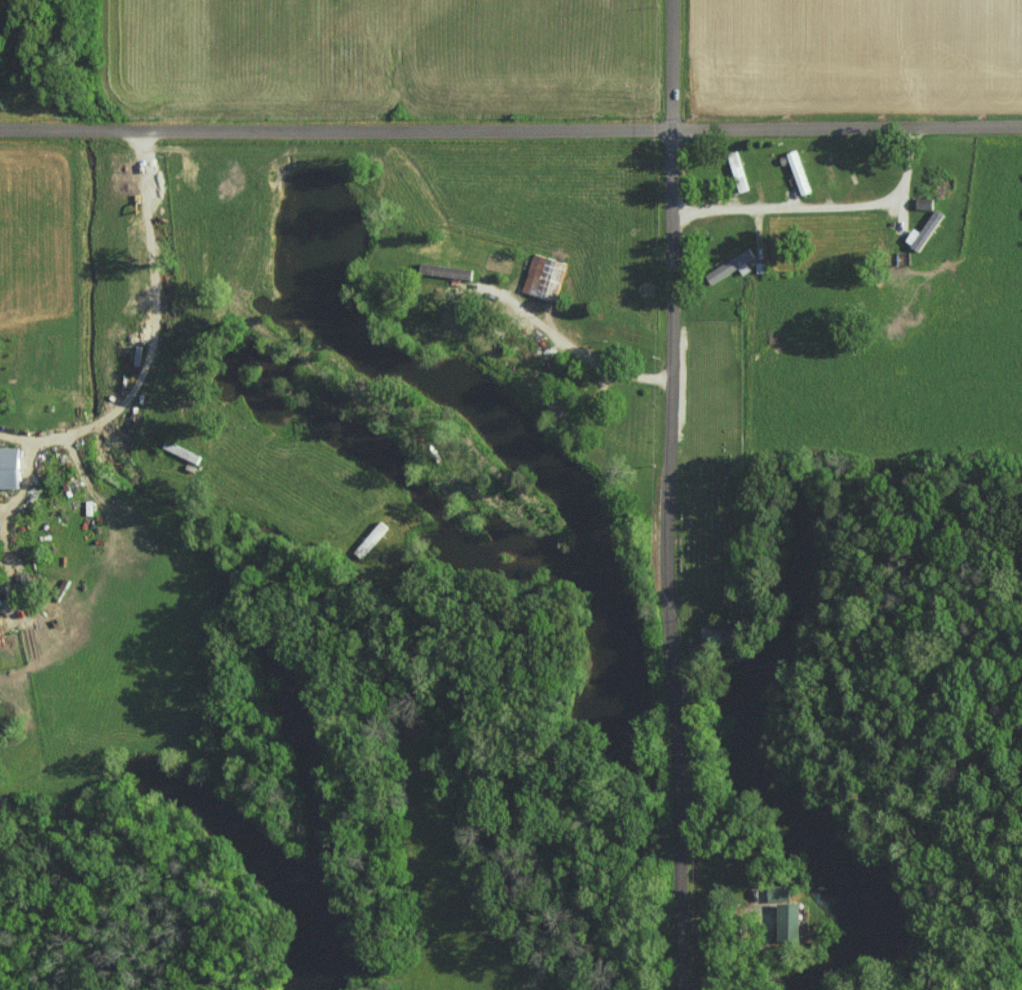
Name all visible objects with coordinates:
road: (510, 124)
building: (799, 172)
road: (826, 209)
building: (923, 233)
building: (733, 266)
building: (446, 271)
building: (545, 277)
road: (150, 281)
road: (261, 409)
road: (97, 424)
road: (45, 437)
building: (10, 467)
road: (673, 494)
park: (710, 534)
building: (372, 539)
building: (0, 621)
building: (0, 646)
building: (778, 892)
building: (788, 921)
road: (759, 954)

